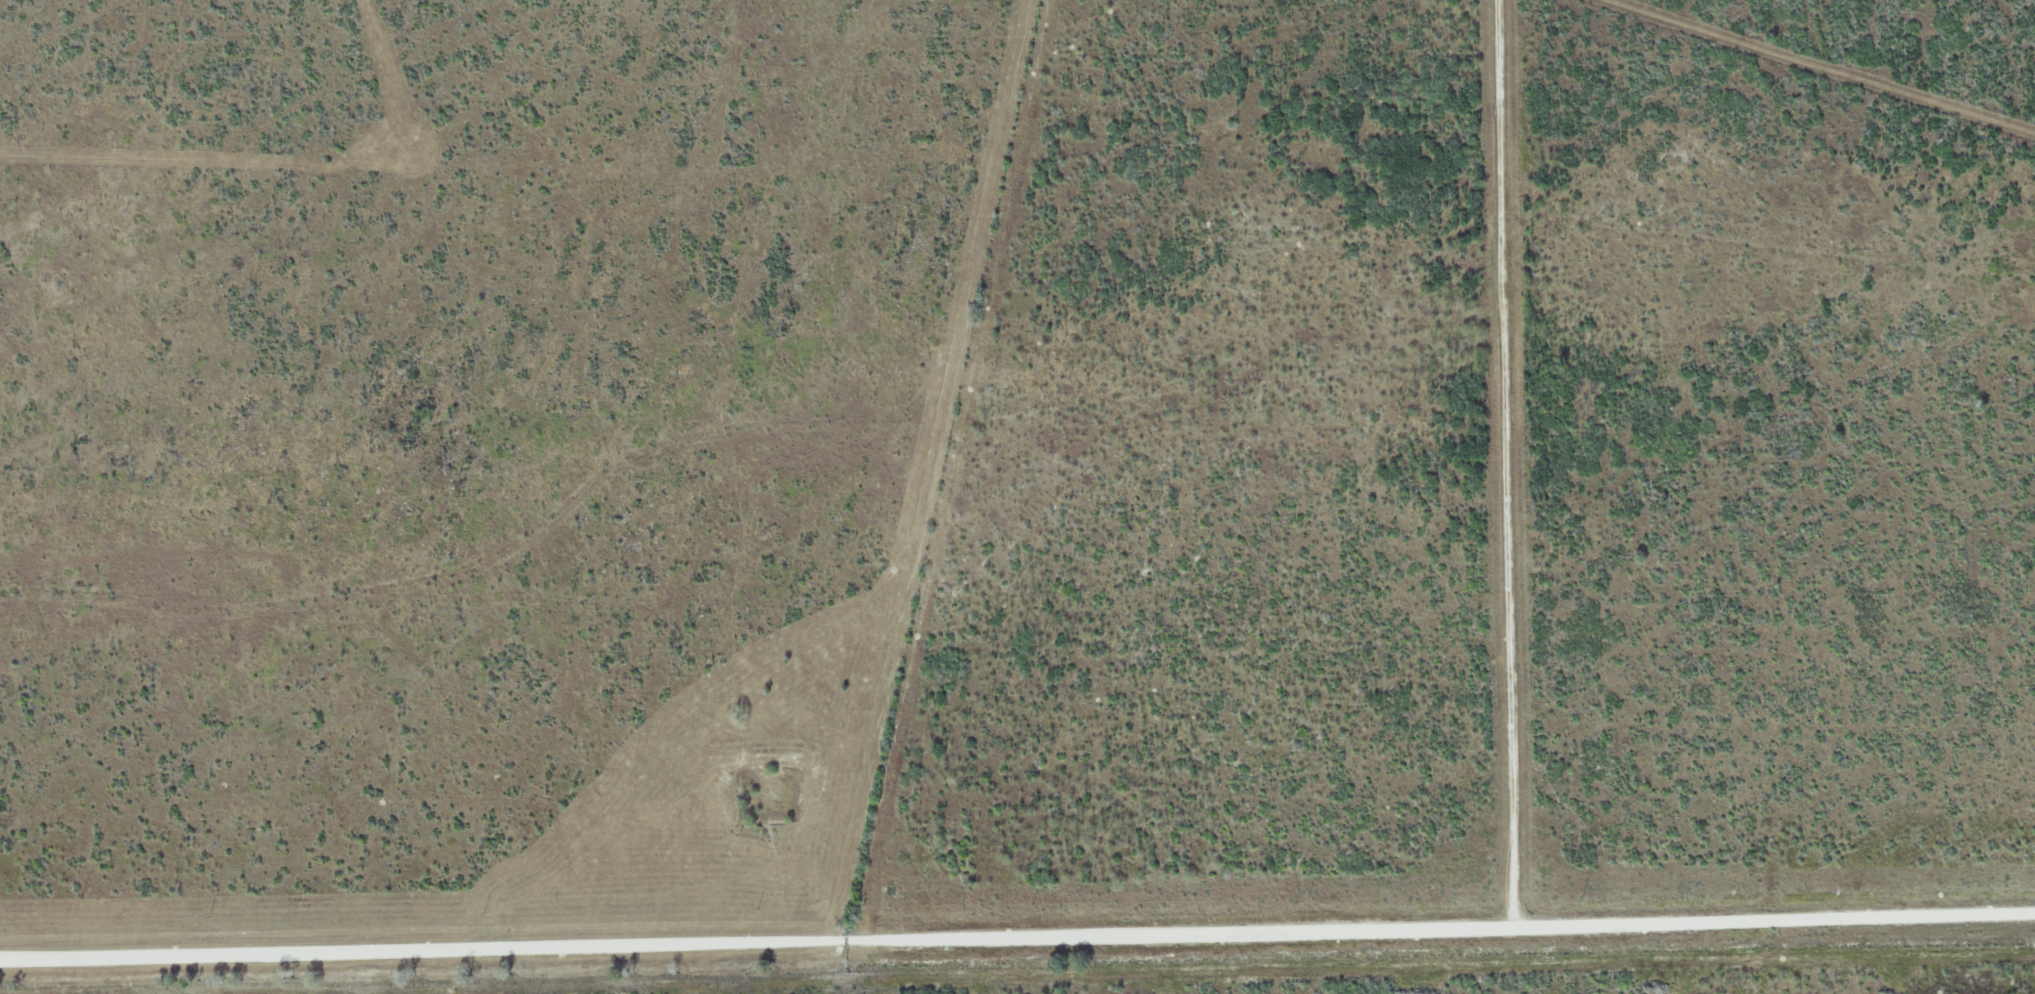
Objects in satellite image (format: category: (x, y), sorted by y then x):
road: (1518, 192)
road: (1521, 656)
road: (1611, 927)
road: (593, 945)

